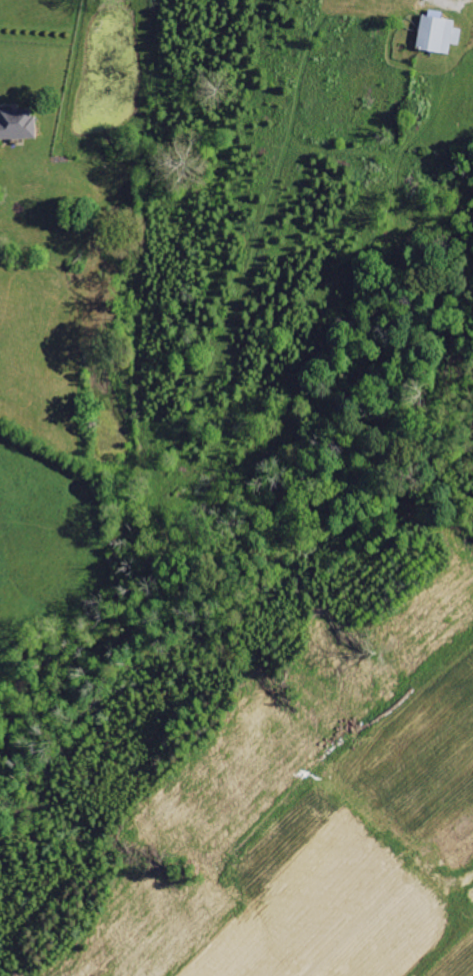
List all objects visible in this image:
building: (438, 34)
building: (18, 124)

